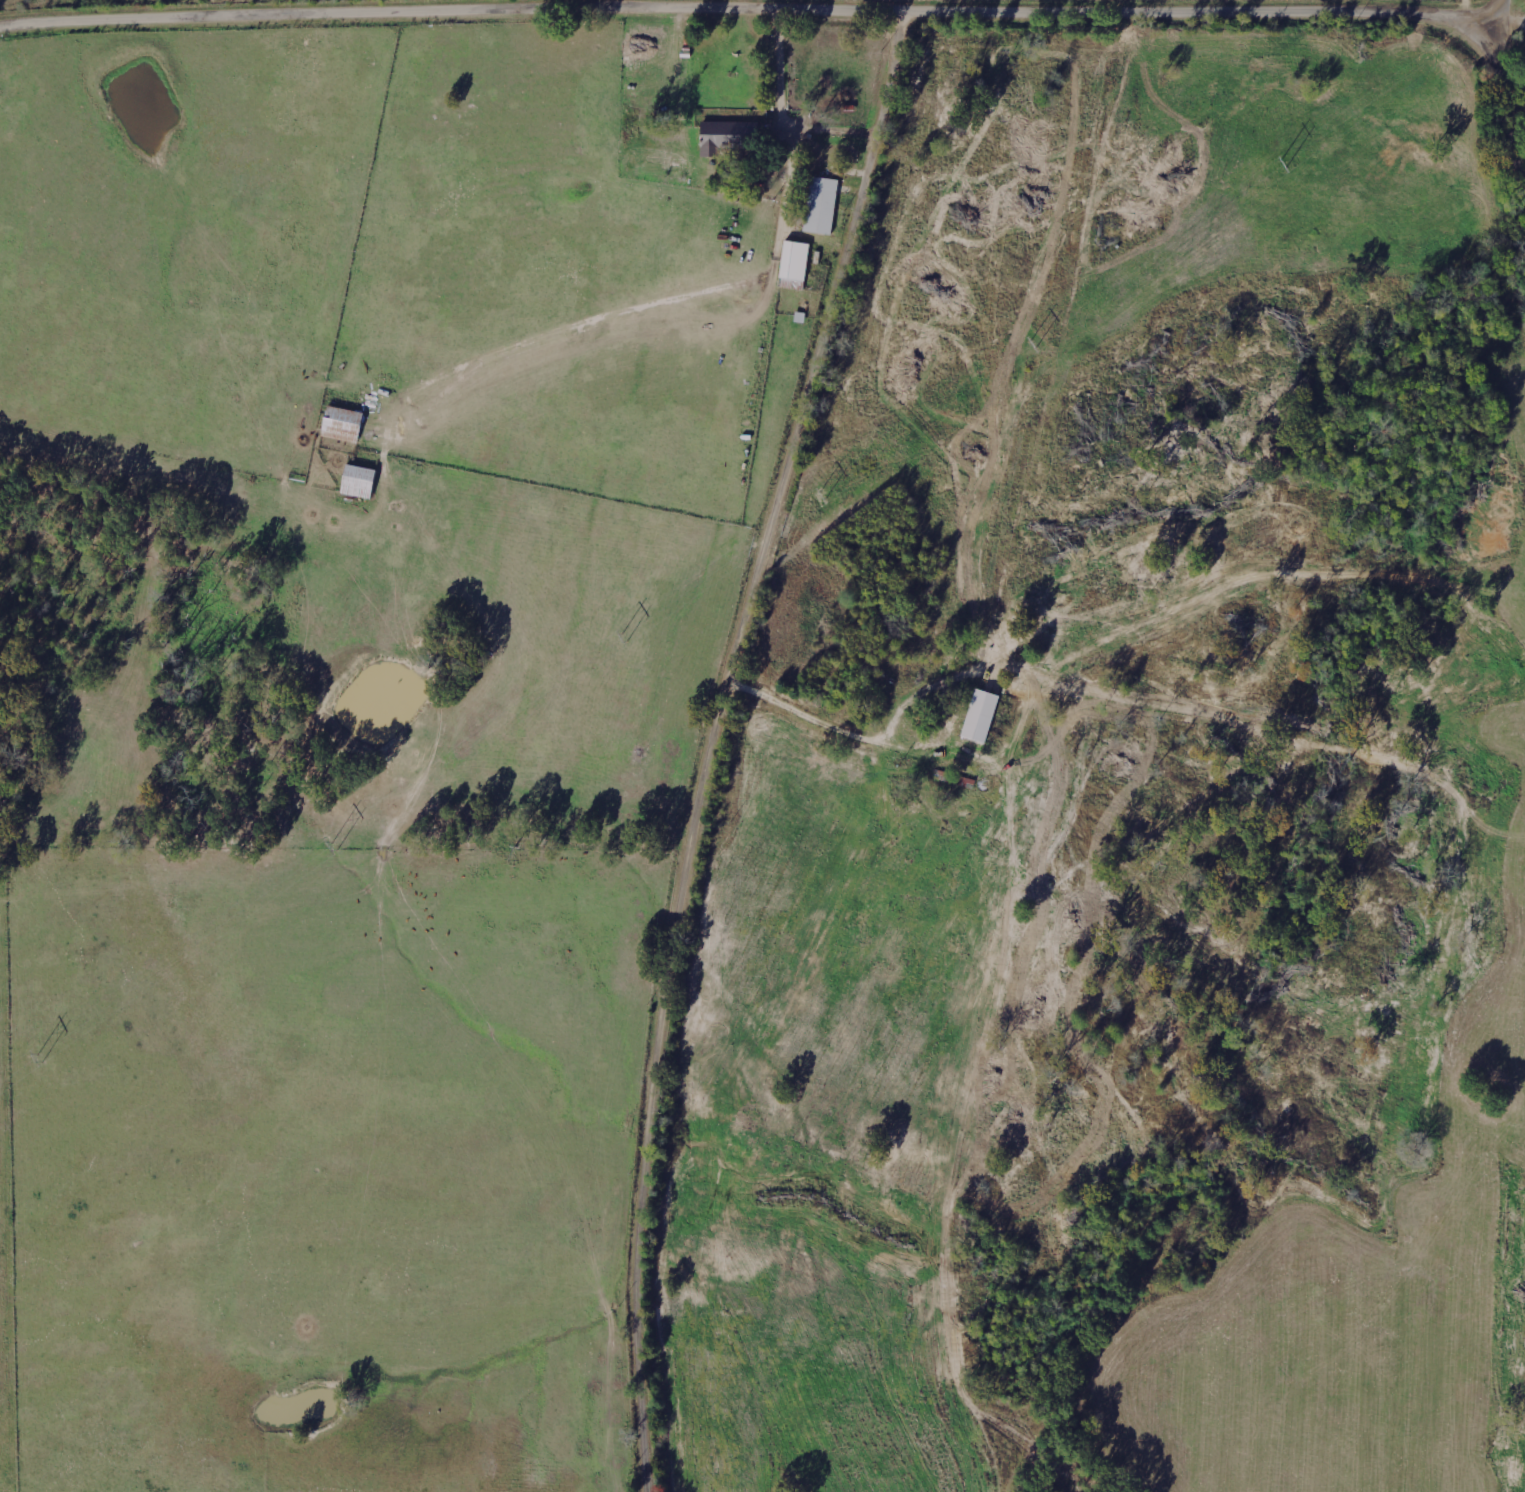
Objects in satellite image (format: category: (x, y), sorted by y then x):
road: (550, 6)
road: (816, 11)
road: (1511, 51)
building: (724, 137)
building: (821, 205)
building: (794, 260)
building: (792, 283)
building: (342, 425)
building: (357, 481)
building: (980, 715)
road: (718, 743)

